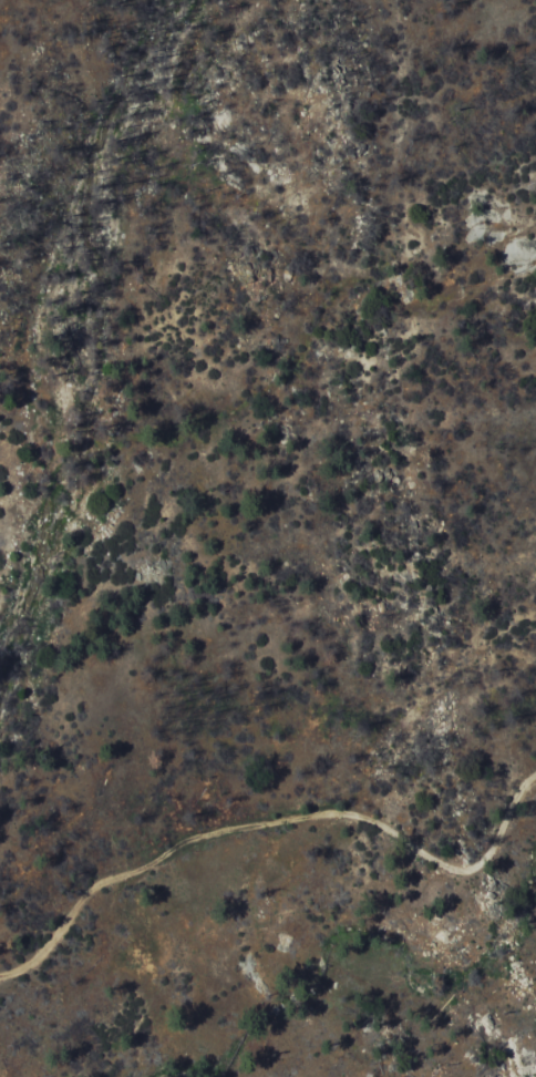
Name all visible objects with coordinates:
road: (272, 825)

